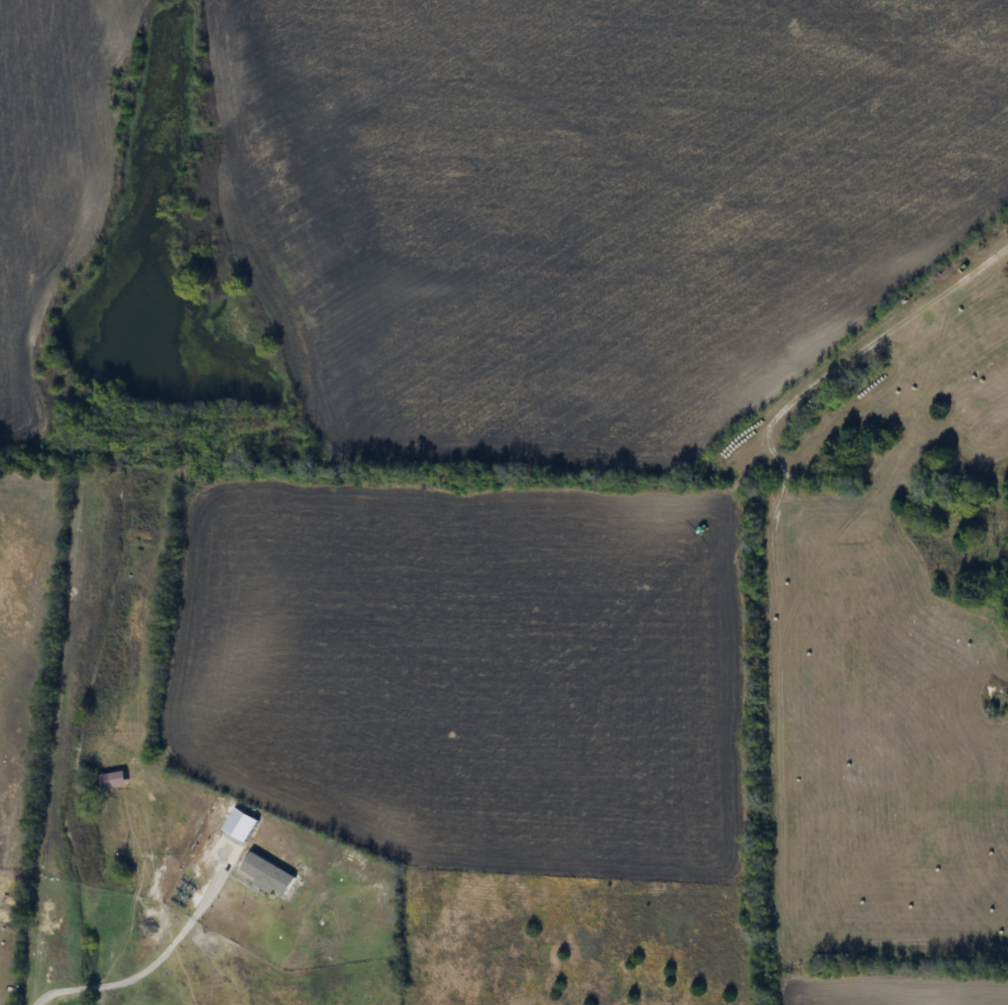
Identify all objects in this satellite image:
road: (148, 968)

